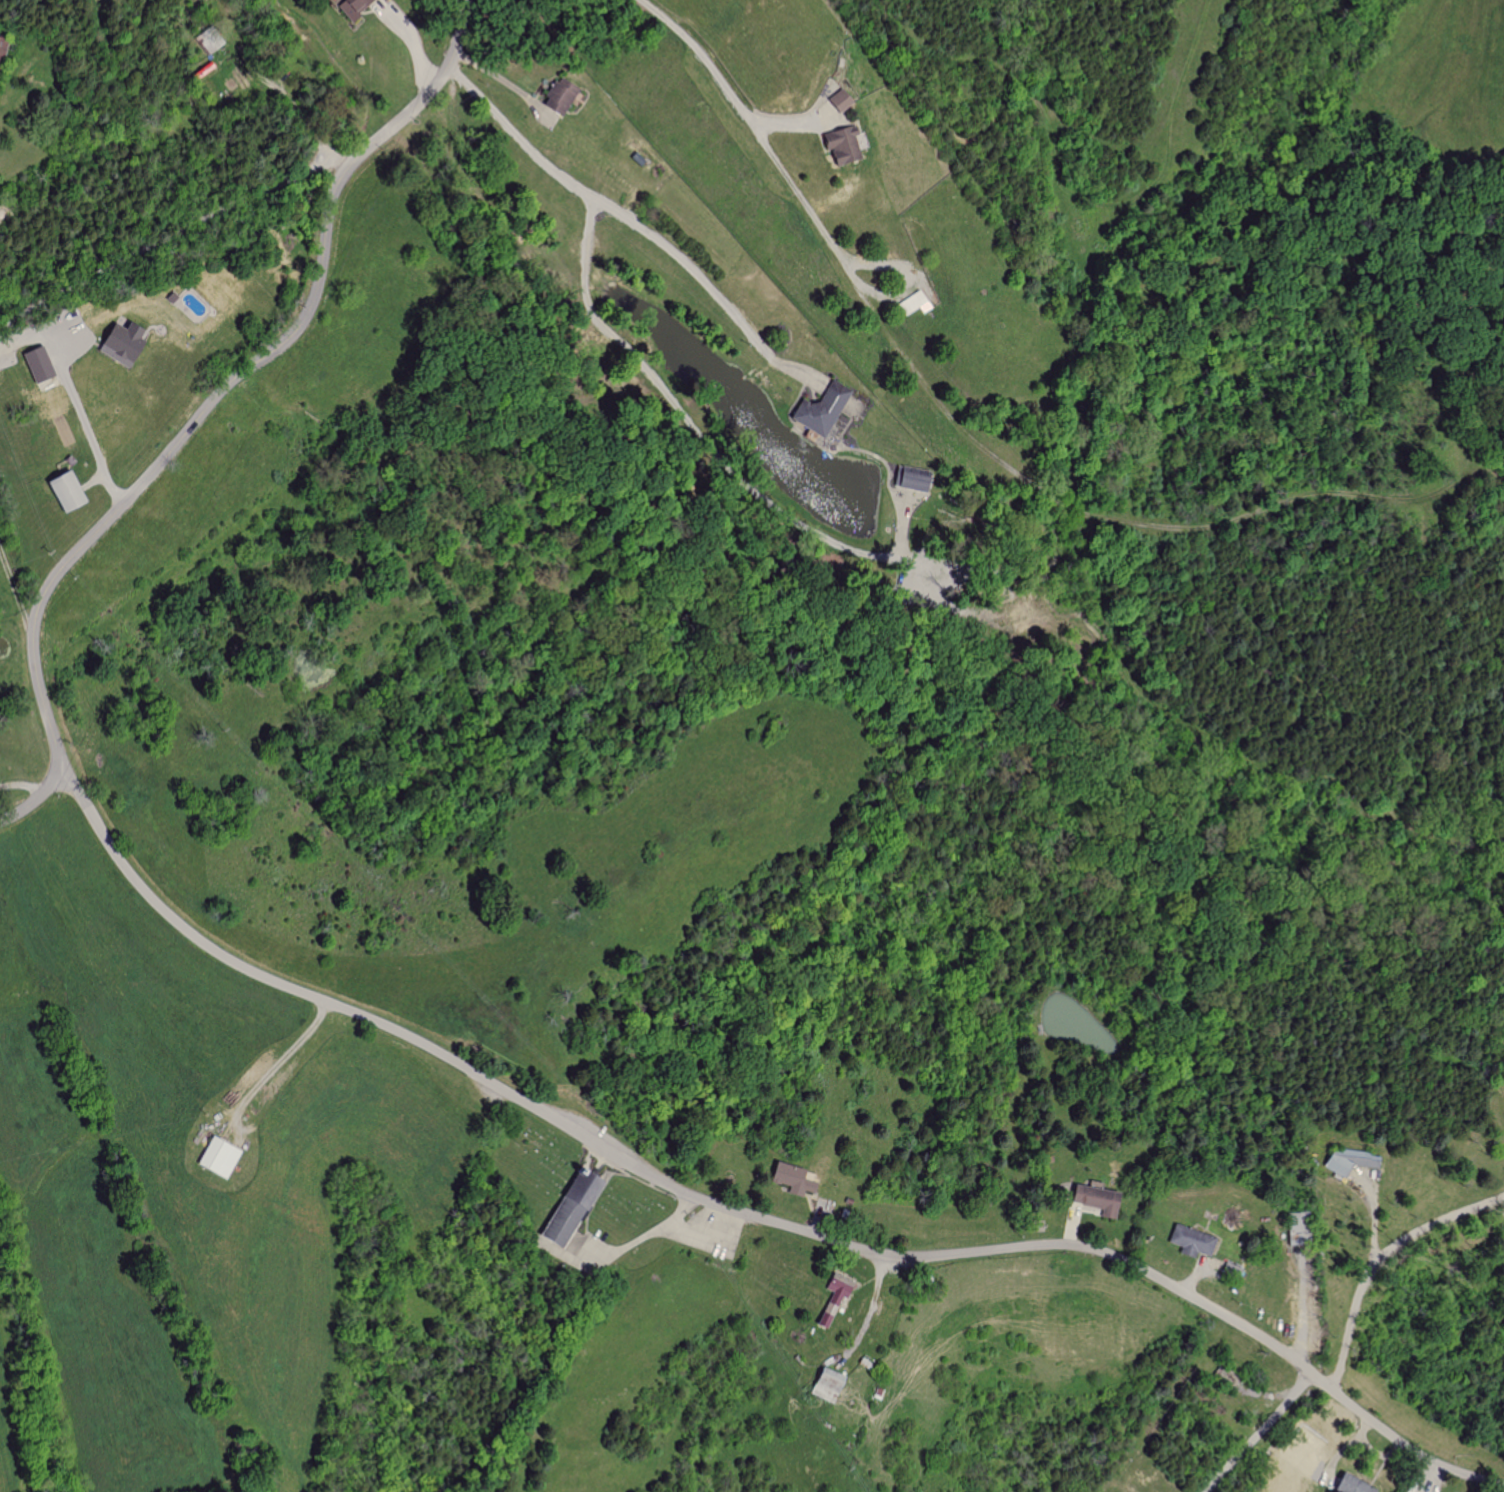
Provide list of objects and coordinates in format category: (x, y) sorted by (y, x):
building: (358, 8)
building: (5, 52)
building: (557, 96)
building: (837, 100)
road: (750, 123)
road: (786, 123)
building: (838, 144)
road: (173, 233)
road: (911, 287)
road: (713, 289)
building: (911, 303)
building: (116, 343)
building: (33, 363)
road: (647, 369)
road: (230, 382)
building: (818, 409)
road: (85, 416)
building: (906, 478)
building: (58, 489)
road: (23, 784)
road: (33, 799)
building: (215, 1158)
building: (1345, 1160)
park: (531, 1164)
building: (789, 1178)
building: (1092, 1200)
park: (629, 1206)
building: (563, 1211)
road: (746, 1215)
building: (1289, 1226)
building: (1187, 1241)
road: (1375, 1256)
building: (832, 1298)
road: (1301, 1310)
building: (824, 1380)
road: (1259, 1434)
building: (1347, 1485)

